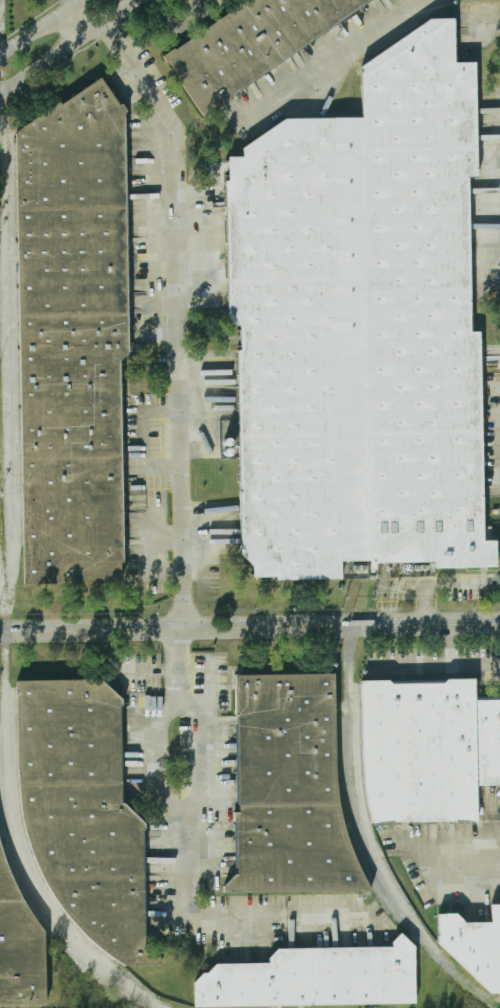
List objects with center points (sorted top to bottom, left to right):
road: (187, 2)
road: (65, 6)
road: (76, 26)
road: (43, 29)
building: (251, 44)
road: (72, 48)
road: (333, 63)
road: (133, 77)
building: (361, 326)
building: (75, 338)
road: (174, 419)
road: (445, 583)
road: (250, 625)
road: (448, 642)
road: (439, 663)
parking lot: (140, 677)
railway: (347, 677)
parking lot: (222, 735)
building: (430, 750)
building: (292, 788)
building: (83, 812)
road: (174, 813)
railway: (374, 841)
railway: (360, 851)
parking lot: (214, 856)
road: (465, 857)
road: (222, 917)
building: (473, 945)
building: (19, 948)
building: (315, 978)

